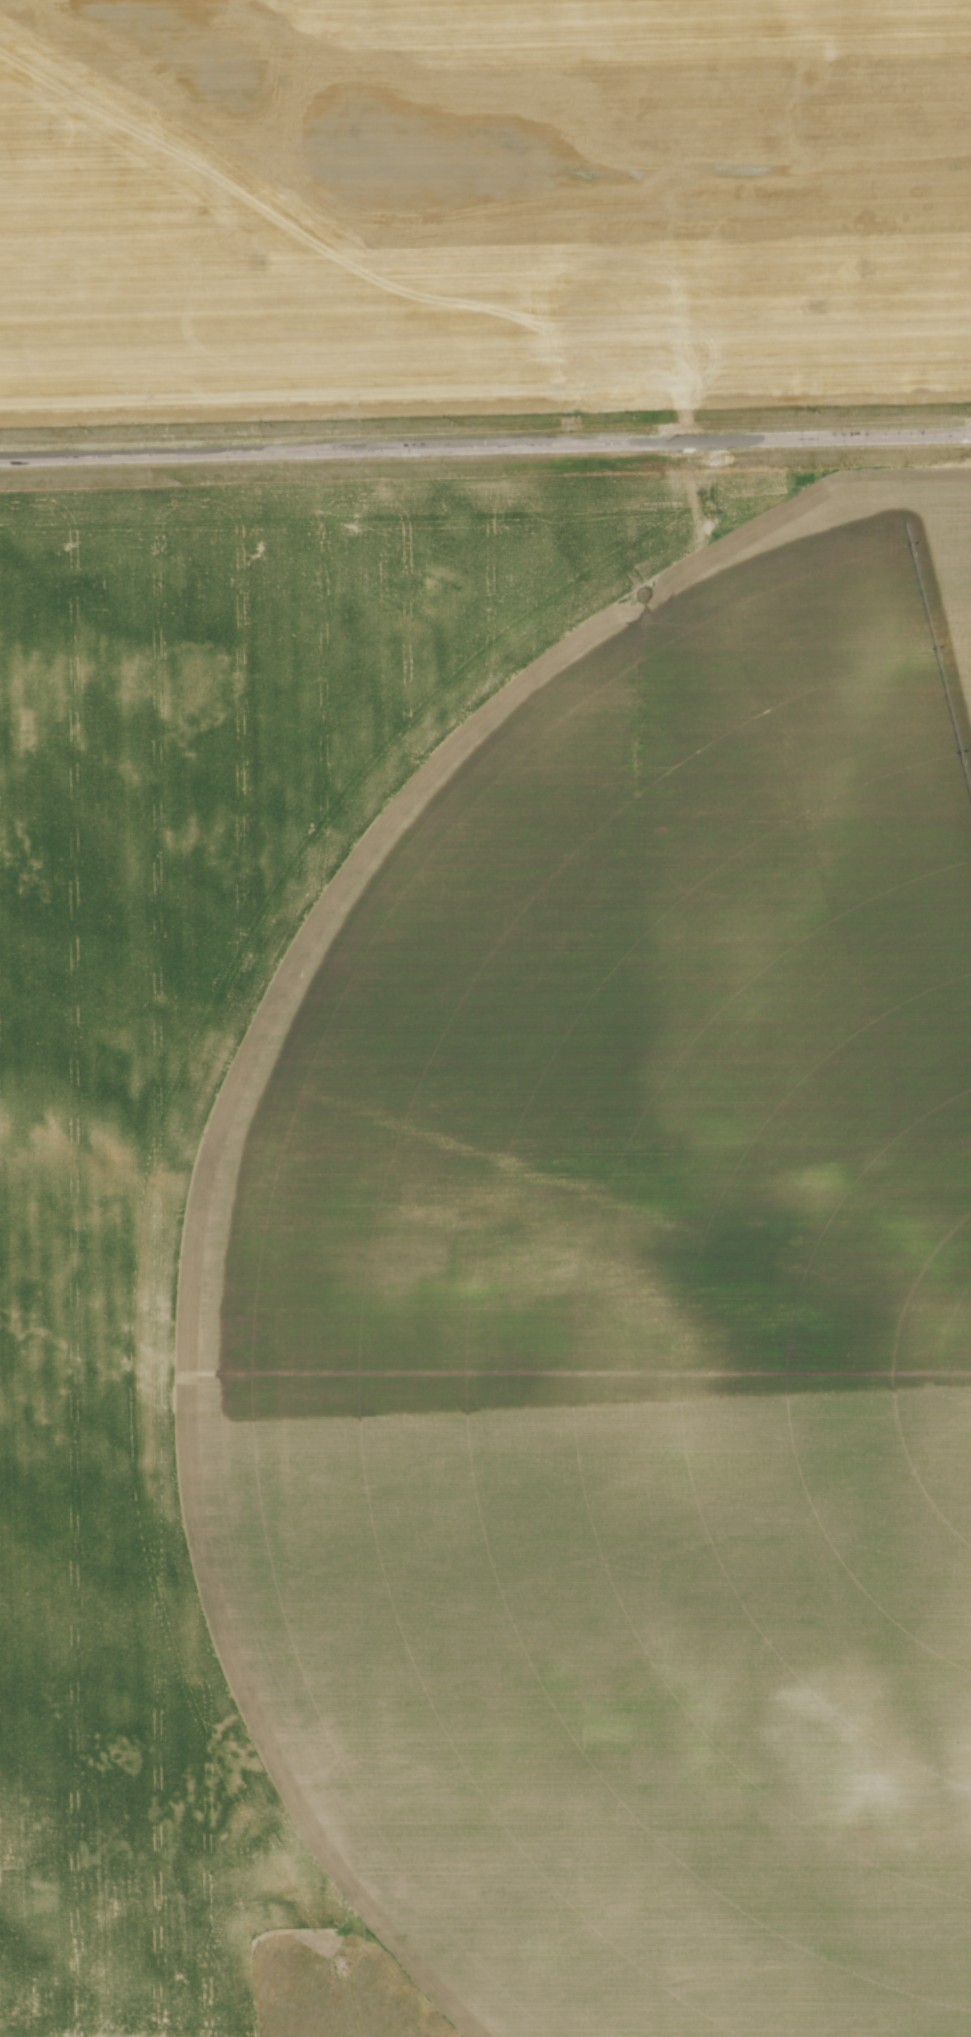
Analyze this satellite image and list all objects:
road: (485, 445)

